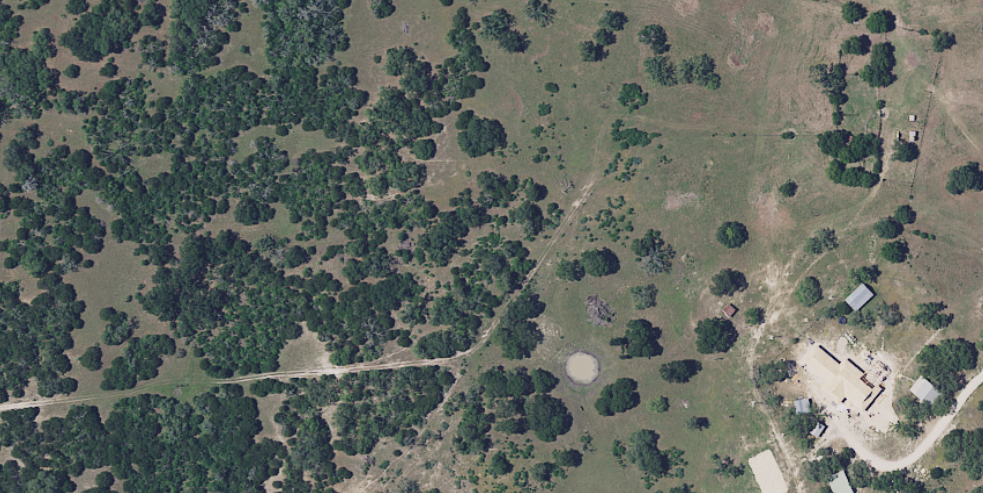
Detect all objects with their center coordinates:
building: (872, 331)
building: (871, 383)
building: (920, 387)
road: (776, 389)
building: (800, 406)
building: (838, 483)

